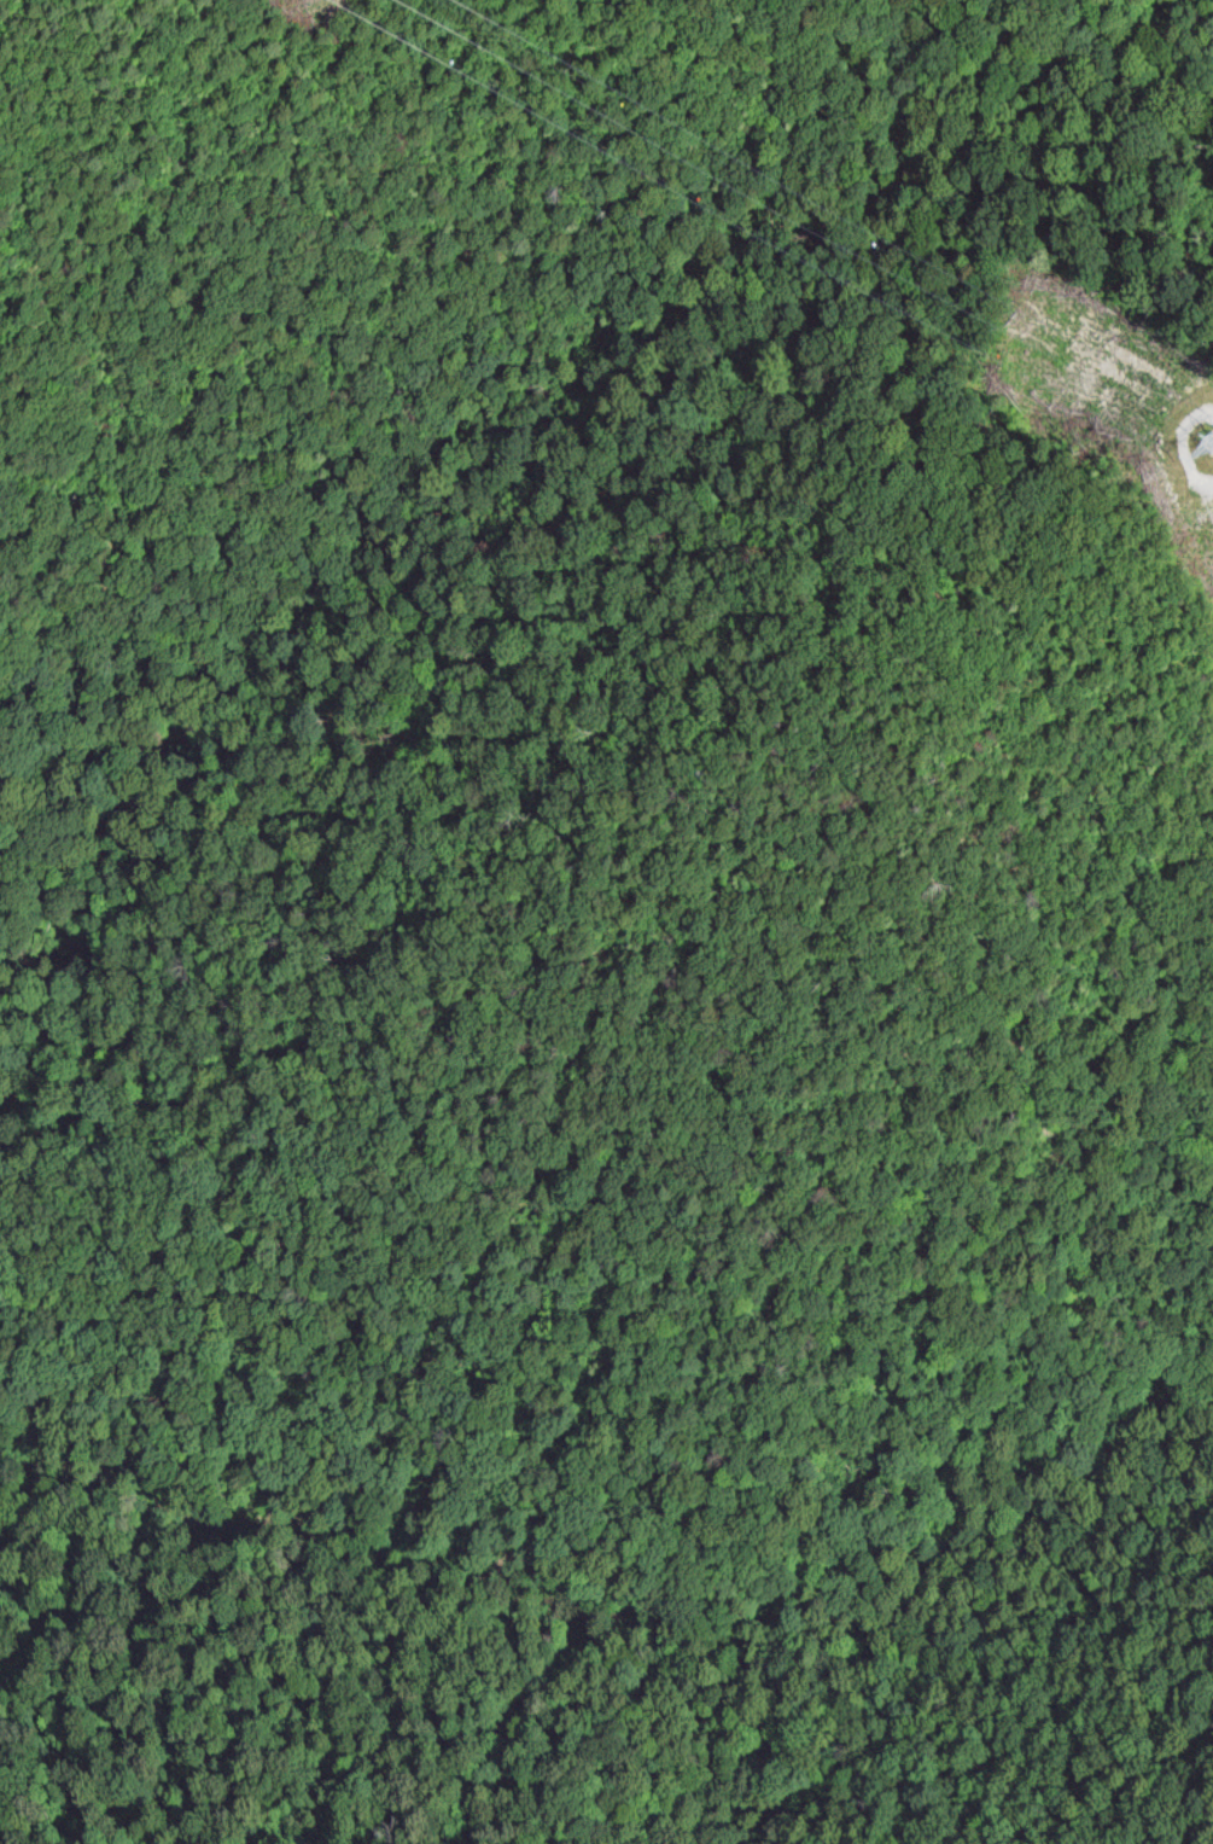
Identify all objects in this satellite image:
road: (396, 1576)

